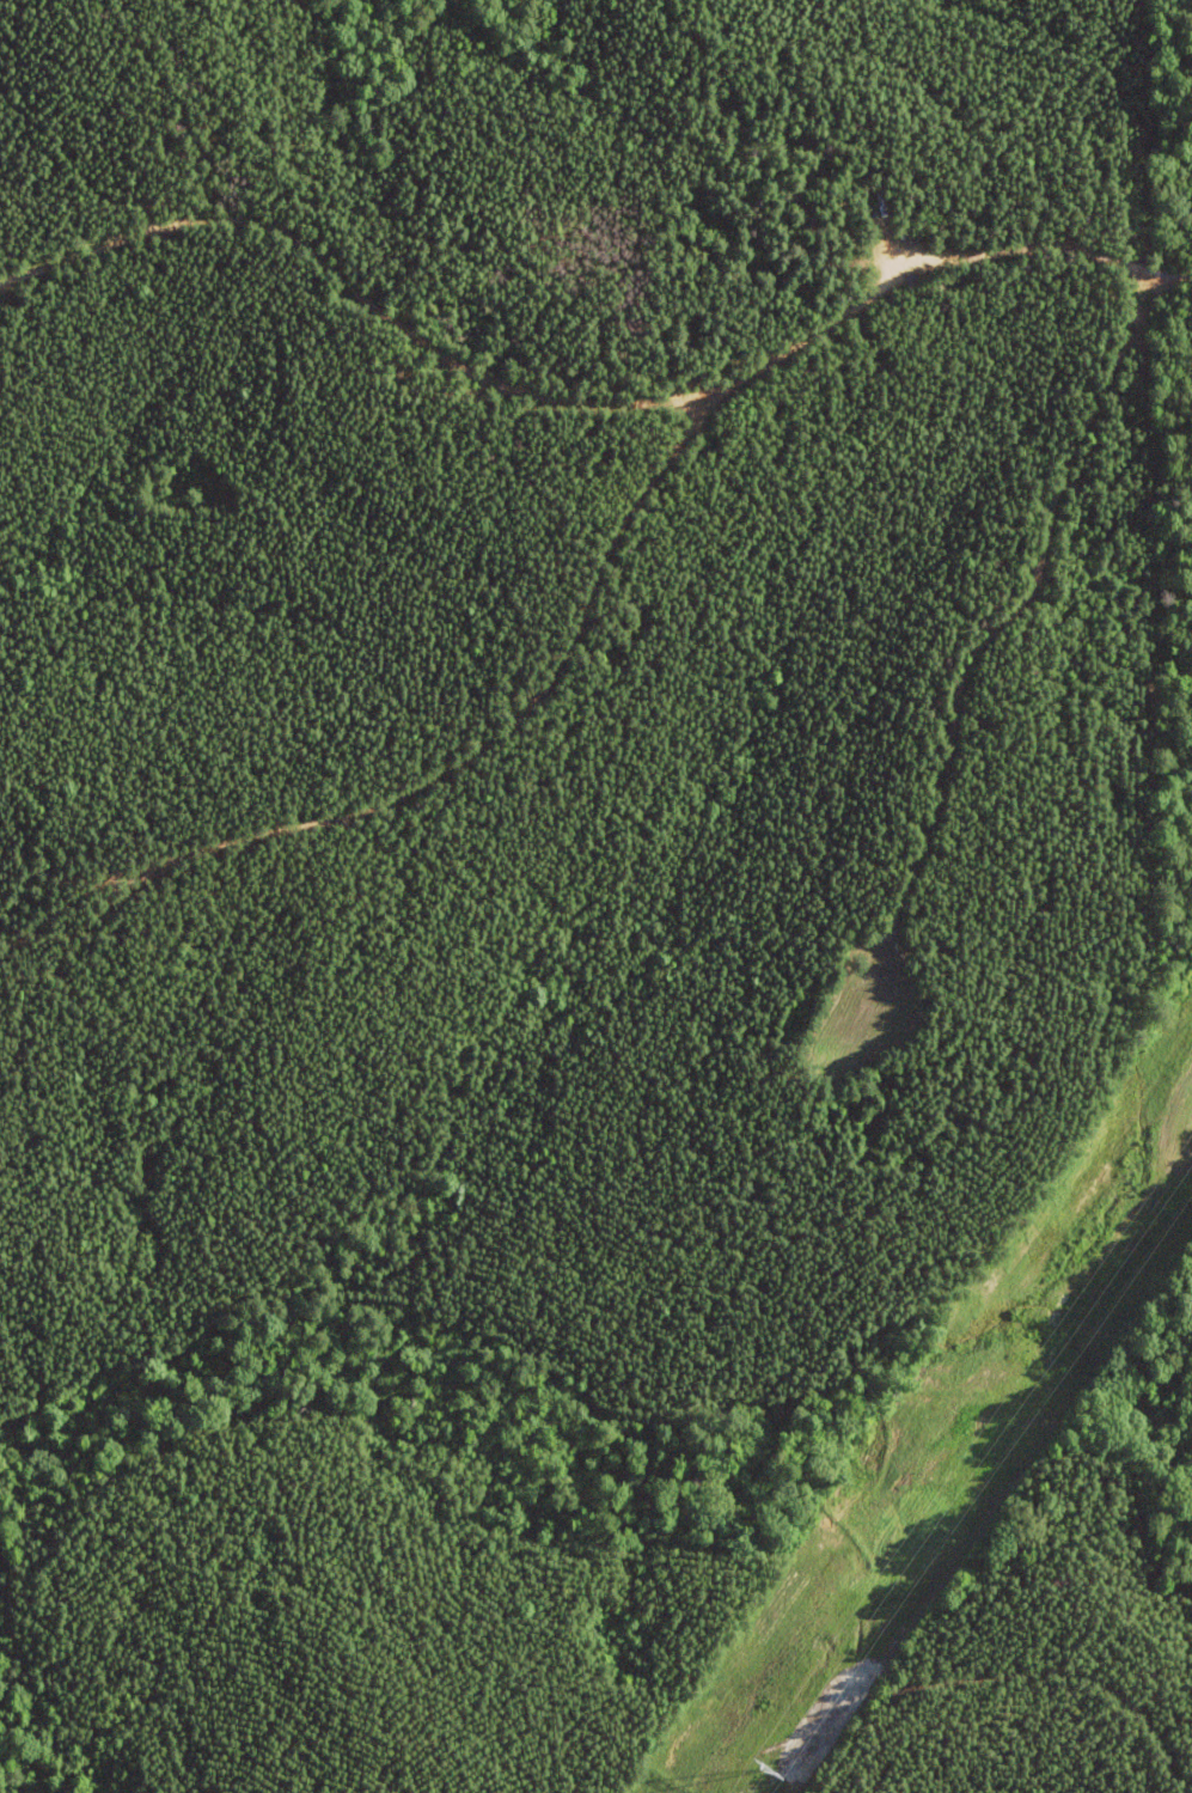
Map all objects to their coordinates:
power tower: (763, 1769)

